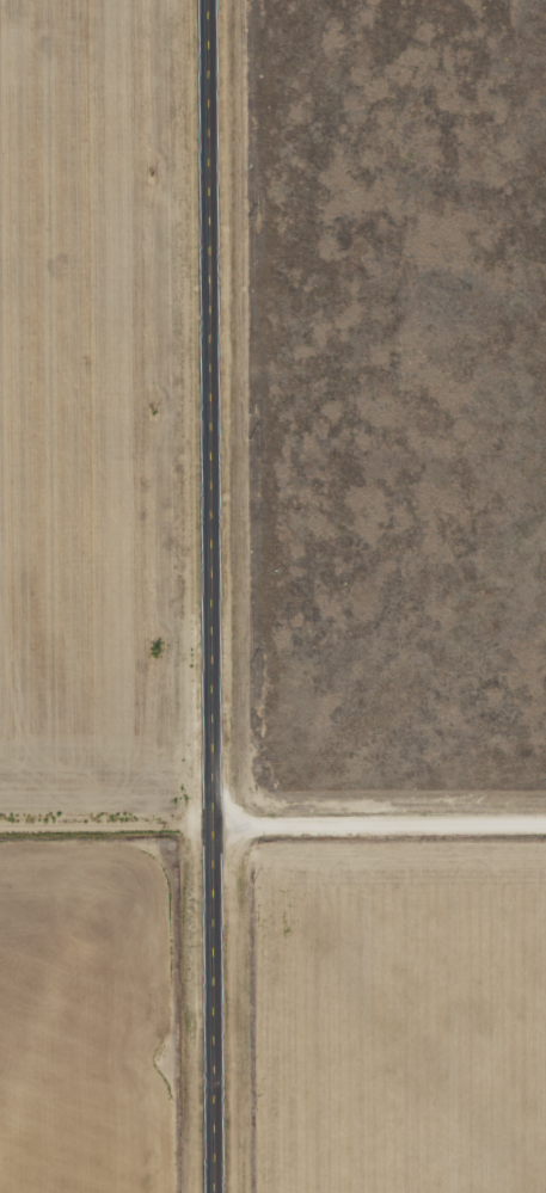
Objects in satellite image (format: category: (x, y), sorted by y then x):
road: (208, 596)
road: (376, 823)
road: (104, 826)

